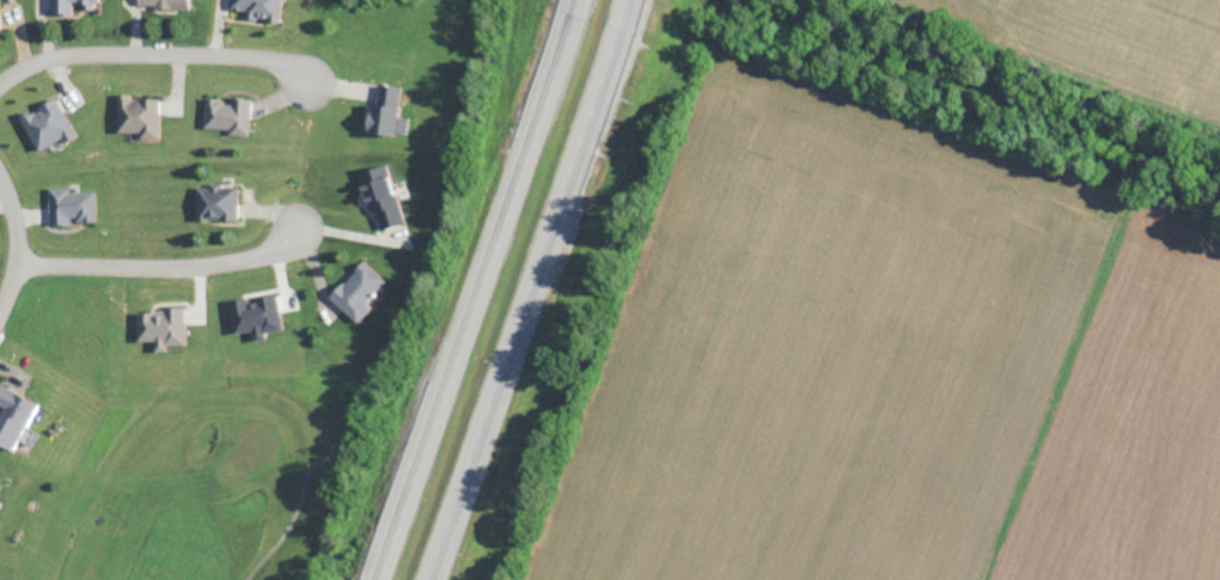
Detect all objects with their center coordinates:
building: (165, 4)
building: (72, 5)
building: (261, 8)
building: (0, 25)
road: (154, 53)
building: (388, 111)
building: (230, 114)
building: (139, 115)
building: (48, 123)
building: (383, 196)
building: (216, 202)
building: (71, 204)
road: (18, 244)
road: (163, 268)
road: (476, 289)
road: (535, 289)
building: (359, 291)
building: (257, 315)
building: (163, 325)
building: (14, 415)

